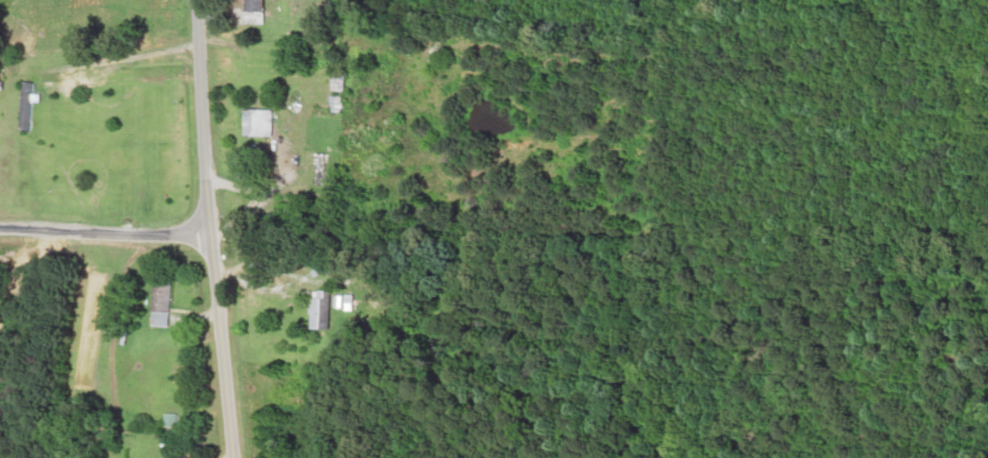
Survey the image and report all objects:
building: (261, 11)
building: (344, 81)
building: (32, 105)
road: (205, 122)
building: (262, 122)
building: (127, 158)
building: (323, 169)
road: (103, 244)
building: (164, 304)
building: (327, 310)
road: (216, 350)

